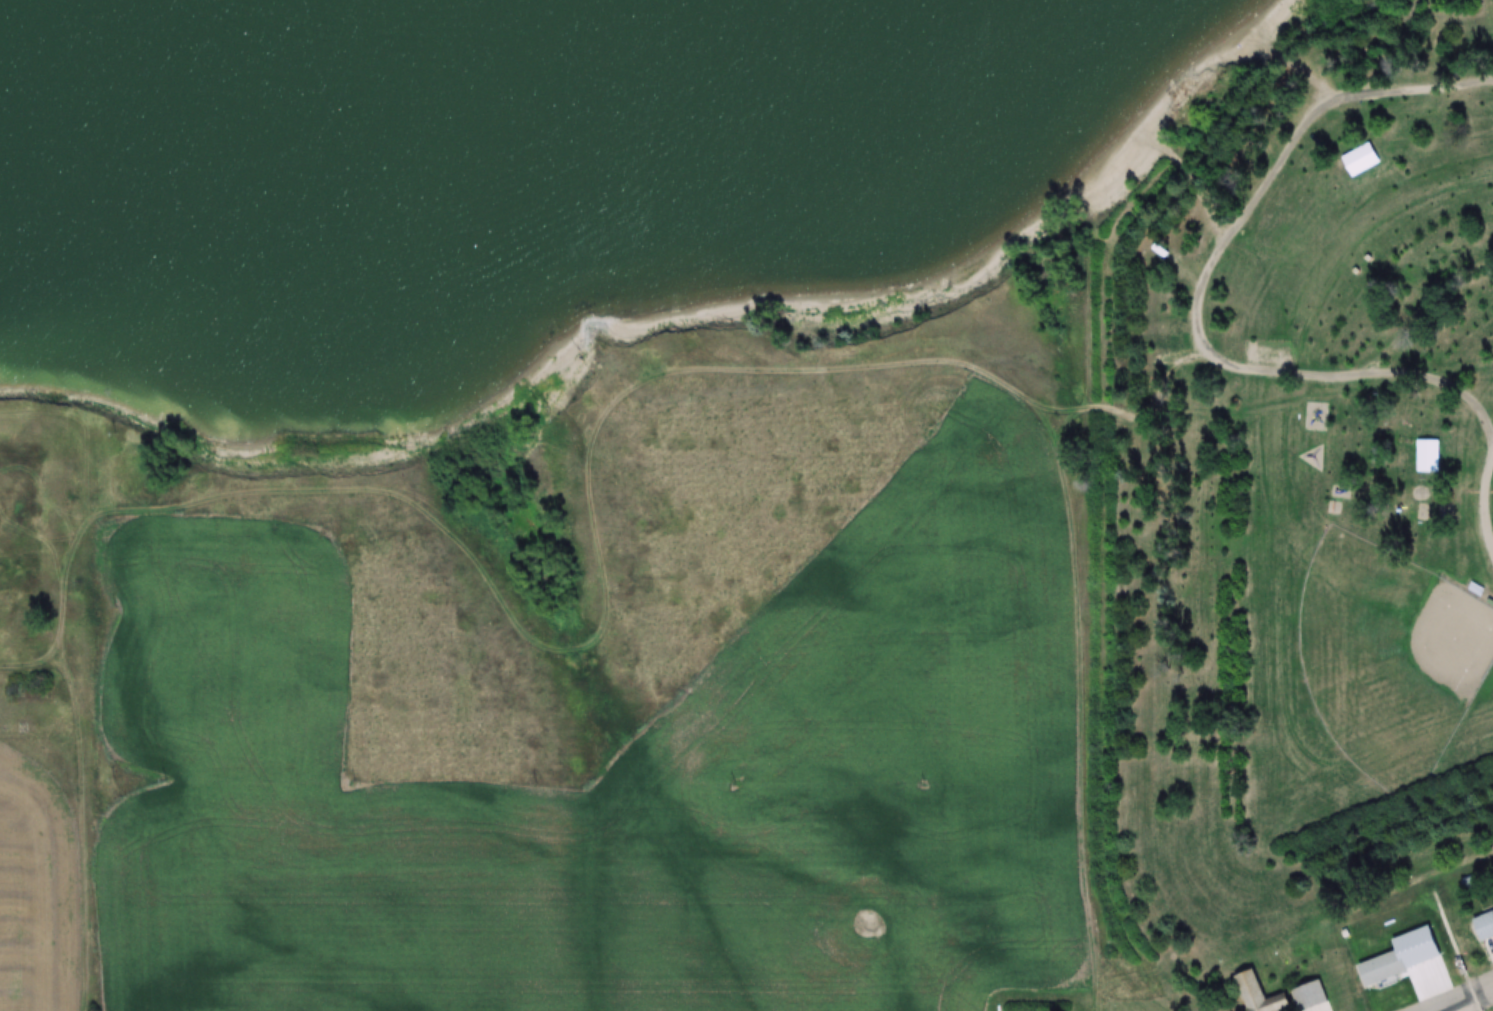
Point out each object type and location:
building: (1360, 158)
road: (1205, 279)
road: (1487, 496)
building: (1476, 589)
park: (1386, 657)
building: (1484, 926)
building: (1384, 968)
building: (1261, 994)
building: (1311, 997)
road: (1468, 1001)
road: (1461, 1008)

